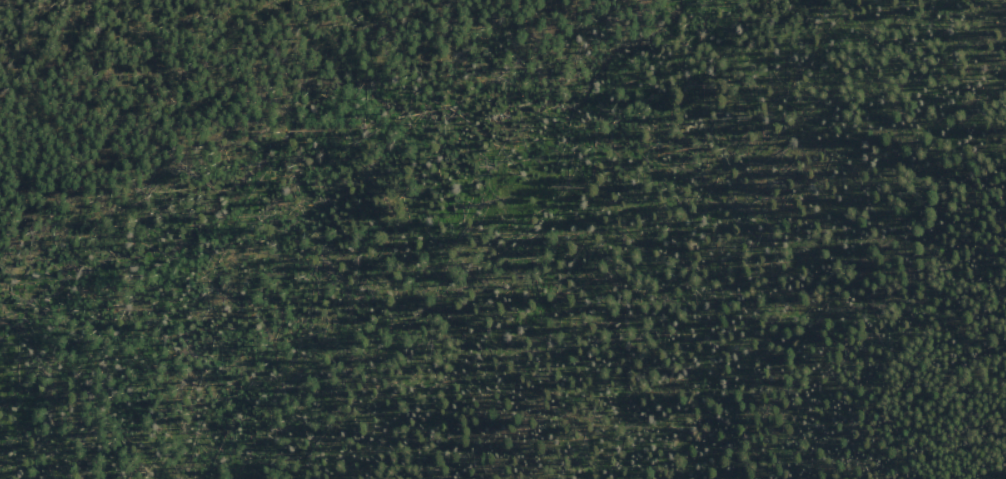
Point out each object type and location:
road: (365, 139)

